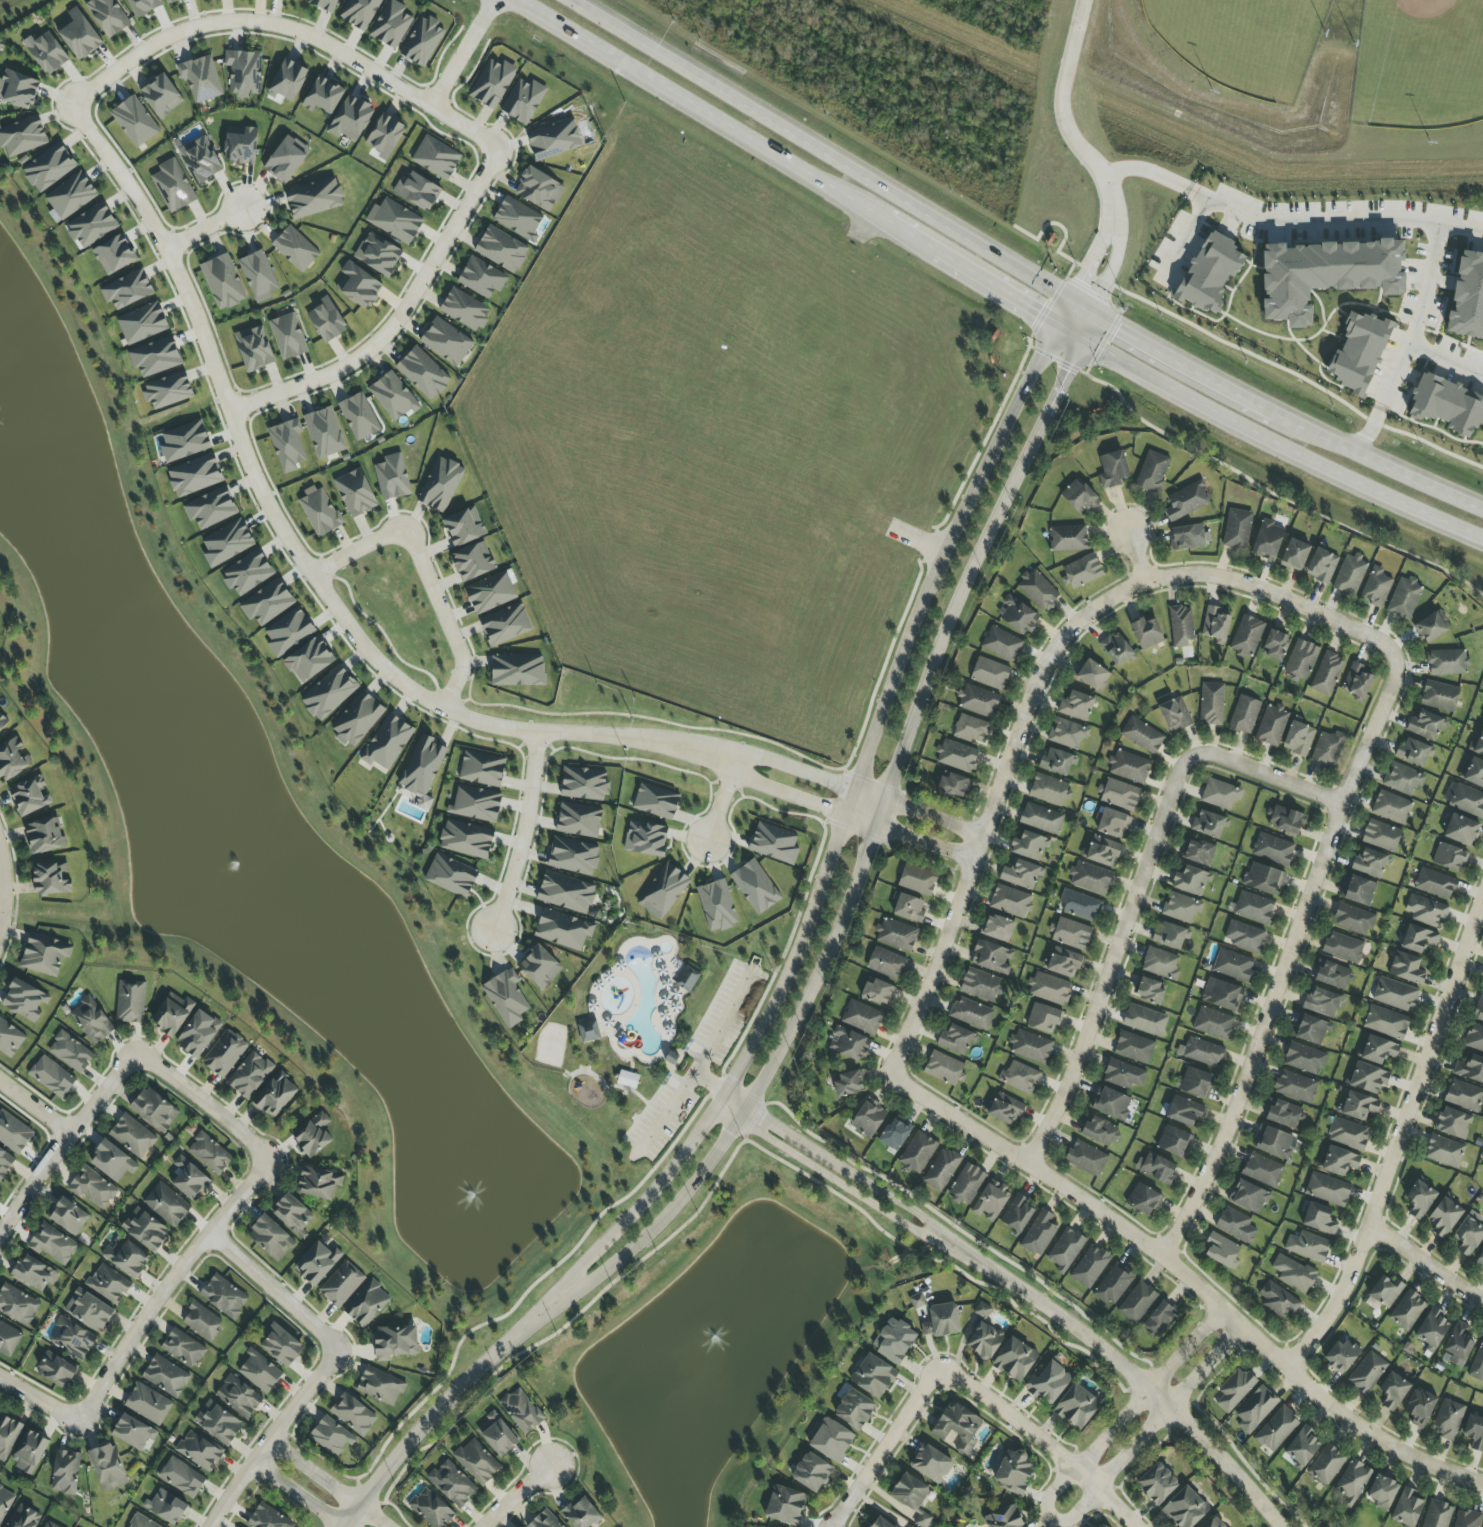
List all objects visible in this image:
building: (172, 1)
building: (324, 4)
building: (144, 6)
building: (359, 13)
building: (108, 16)
building: (391, 24)
road: (289, 28)
building: (78, 34)
building: (422, 41)
park: (1235, 43)
building: (46, 52)
road: (463, 53)
building: (243, 73)
building: (200, 78)
building: (288, 80)
building: (492, 83)
building: (18, 89)
building: (161, 96)
building: (323, 96)
building: (523, 101)
road: (692, 104)
road: (1062, 114)
park: (1240, 116)
building: (351, 119)
building: (134, 121)
building: (22, 135)
building: (385, 136)
building: (554, 139)
building: (240, 145)
building: (436, 157)
road: (831, 157)
building: (200, 159)
building: (286, 159)
building: (49, 167)
building: (173, 186)
building: (538, 189)
building: (417, 191)
building: (71, 195)
building: (314, 198)
building: (518, 218)
building: (395, 221)
road: (1113, 222)
road: (1288, 222)
road: (890, 223)
building: (91, 225)
road: (206, 228)
road: (1185, 240)
building: (295, 249)
building: (501, 249)
building: (378, 254)
building: (114, 255)
building: (1209, 272)
building: (1325, 275)
building: (258, 276)
building: (481, 278)
road: (985, 280)
building: (223, 282)
traffic signals: (1082, 282)
building: (358, 285)
building: (127, 289)
building: (1468, 298)
building: (464, 310)
traffic signals: (1038, 310)
road: (400, 316)
building: (326, 320)
building: (142, 323)
road: (1070, 328)
traffic signals: (1118, 328)
building: (288, 336)
building: (446, 341)
road: (1411, 343)
building: (254, 348)
building: (1358, 352)
building: (155, 357)
road: (1447, 360)
road: (1193, 367)
traffic signals: (1065, 371)
building: (422, 373)
building: (168, 390)
building: (393, 396)
building: (1447, 405)
building: (358, 416)
road: (1154, 429)
building: (324, 432)
building: (184, 441)
building: (288, 444)
road: (1276, 449)
road: (1387, 465)
building: (1112, 469)
building: (1152, 472)
building: (195, 475)
building: (392, 477)
building: (441, 484)
building: (355, 493)
building: (1079, 497)
building: (1186, 501)
building: (211, 508)
building: (319, 512)
building: (464, 526)
building: (1237, 529)
building: (1189, 537)
building: (1067, 538)
road: (937, 540)
building: (1267, 540)
road: (912, 541)
building: (227, 543)
building: (1295, 555)
road: (299, 556)
road: (1135, 556)
road: (928, 558)
building: (473, 562)
building: (1321, 566)
building: (1082, 571)
building: (247, 573)
building: (1350, 574)
road: (425, 575)
building: (1376, 588)
building: (1037, 590)
building: (490, 592)
road: (1274, 595)
building: (1404, 598)
building: (267, 603)
building: (1017, 615)
building: (505, 624)
building: (1216, 624)
building: (1181, 626)
building: (1431, 627)
building: (288, 632)
building: (1146, 632)
building: (1246, 636)
road: (386, 638)
building: (1001, 644)
building: (1274, 645)
building: (1116, 649)
building: (1301, 659)
building: (309, 660)
building: (1447, 662)
building: (517, 670)
building: (989, 673)
building: (1327, 673)
building: (1093, 675)
building: (1357, 682)
building: (329, 693)
building: (1439, 696)
building: (978, 701)
building: (1211, 703)
building: (1076, 706)
building: (1173, 713)
building: (1244, 715)
building: (358, 718)
road: (646, 718)
building: (1482, 718)
building: (3, 720)
building: (1425, 724)
building: (1272, 725)
building: (971, 729)
building: (1067, 733)
building: (1142, 735)
building: (1298, 738)
building: (387, 742)
building: (1477, 746)
building: (1327, 749)
building: (1414, 752)
building: (958, 756)
building: (12, 759)
building: (1057, 762)
building: (1129, 767)
building: (421, 768)
building: (482, 769)
road: (795, 770)
building: (1473, 773)
road: (1263, 776)
building: (1402, 779)
building: (584, 784)
building: (953, 785)
building: (1049, 790)
road: (786, 793)
building: (1120, 794)
building: (1220, 794)
building: (30, 796)
building: (1467, 800)
building: (656, 801)
road: (720, 802)
building: (475, 804)
road: (991, 806)
building: (1391, 807)
road: (918, 813)
building: (1041, 818)
building: (578, 820)
building: (1286, 820)
road: (834, 824)
building: (1113, 824)
building: (1208, 825)
road: (842, 826)
building: (1461, 830)
road: (524, 834)
building: (1382, 835)
building: (44, 836)
road: (910, 838)
building: (466, 839)
building: (646, 839)
building: (774, 843)
road: (866, 846)
building: (1029, 846)
building: (1273, 849)
building: (1101, 852)
building: (1198, 852)
building: (573, 856)
building: (1449, 857)
building: (1369, 863)
fountain: (246, 865)
building: (1020, 874)
building: (451, 876)
building: (1090, 878)
building: (51, 879)
building: (1263, 879)
building: (917, 880)
building: (1191, 881)
building: (1434, 884)
road: (2, 887)
building: (755, 887)
building: (1358, 890)
building: (663, 891)
building: (565, 892)
building: (1010, 901)
building: (716, 905)
building: (1080, 905)
building: (1180, 907)
building: (908, 908)
building: (1254, 908)
building: (1425, 910)
building: (1352, 920)
building: (997, 928)
building: (562, 930)
building: (1071, 934)
building: (896, 935)
building: (1168, 935)
building: (1244, 936)
building: (1418, 939)
building: (1343, 947)
building: (44, 954)
building: (992, 957)
road: (1286, 961)
road: (1110, 962)
building: (886, 963)
building: (1062, 963)
building: (1161, 964)
building: (1233, 965)
building: (539, 967)
building: (1406, 968)
building: (1331, 974)
building: (687, 979)
building: (981, 985)
building: (1049, 988)
building: (1482, 989)
building: (1149, 991)
building: (878, 992)
building: (1396, 994)
building: (1222, 995)
building: (506, 998)
building: (24, 1000)
building: (1323, 1001)
building: (130, 1002)
building: (1479, 1010)
parking lot: (725, 1012)
building: (972, 1013)
building: (172, 1014)
building: (862, 1017)
building: (1044, 1018)
building: (1144, 1020)
building: (91, 1021)
building: (1213, 1023)
building: (1387, 1023)
building: (1310, 1029)
building: (588, 1031)
building: (198, 1033)
building: (10, 1039)
building: (956, 1039)
building: (1474, 1039)
building: (848, 1044)
building: (1030, 1046)
building: (1133, 1048)
building: (1379, 1050)
building: (70, 1052)
road: (681, 1052)
building: (1201, 1052)
building: (224, 1053)
building: (1304, 1059)
road: (698, 1062)
building: (943, 1068)
building: (1470, 1069)
building: (1123, 1074)
building: (249, 1075)
building: (51, 1077)
building: (1019, 1077)
building: (1367, 1078)
building: (627, 1079)
building: (1195, 1082)
building: (848, 1083)
road: (707, 1084)
road: (717, 1084)
building: (1296, 1087)
road: (604, 1089)
building: (275, 1095)
building: (1465, 1095)
road: (734, 1103)
building: (1111, 1103)
road: (204, 1104)
building: (1358, 1106)
road: (33, 1109)
building: (1005, 1109)
building: (154, 1110)
building: (1184, 1112)
building: (1282, 1113)
parking lot: (658, 1119)
building: (868, 1119)
building: (1453, 1123)
building: (1098, 1130)
building: (13, 1133)
building: (1348, 1134)
building: (132, 1135)
building: (312, 1135)
building: (894, 1135)
road: (1396, 1138)
road: (62, 1139)
building: (1174, 1141)
building: (1273, 1142)
building: (1444, 1151)
building: (209, 1153)
building: (917, 1153)
building: (1086, 1158)
building: (112, 1161)
building: (1340, 1161)
building: (5, 1162)
building: (1156, 1168)
building: (941, 1170)
building: (1262, 1170)
road: (849, 1172)
building: (190, 1179)
building: (318, 1182)
building: (967, 1183)
road: (839, 1186)
building: (92, 1187)
building: (1328, 1189)
building: (1248, 1197)
fountain: (485, 1199)
building: (1143, 1199)
building: (1420, 1199)
building: (991, 1201)
building: (167, 1204)
road: (1095, 1207)
building: (293, 1214)
building: (1017, 1214)
building: (68, 1215)
building: (1444, 1217)
building: (1319, 1219)
building: (1236, 1225)
building: (145, 1229)
building: (1039, 1234)
building: (1468, 1236)
building: (270, 1238)
building: (53, 1244)
building: (1307, 1246)
building: (1065, 1249)
building: (1221, 1251)
building: (126, 1257)
building: (1480, 1260)
building: (317, 1262)
road: (1424, 1264)
building: (1089, 1267)
building: (1293, 1273)
building: (33, 1274)
building: (108, 1283)
building: (341, 1284)
building: (1113, 1285)
road: (165, 1286)
building: (1385, 1291)
road: (273, 1293)
building: (224, 1296)
building: (917, 1300)
building: (1277, 1301)
building: (1137, 1302)
building: (366, 1304)
building: (17, 1305)
building: (88, 1310)
building: (1407, 1311)
building: (1160, 1319)
building: (202, 1321)
building: (941, 1321)
building: (1432, 1329)
fountain: (737, 1330)
building: (984, 1335)
building: (71, 1338)
building: (8, 1339)
building: (894, 1340)
building: (395, 1342)
building: (1460, 1344)
building: (281, 1346)
building: (183, 1348)
building: (1341, 1355)
building: (1015, 1359)
building: (1477, 1364)
road: (1126, 1369)
building: (56, 1370)
building: (259, 1371)
building: (1367, 1372)
building: (165, 1376)
building: (873, 1376)
building: (1048, 1383)
building: (380, 1386)
building: (1234, 1390)
building: (1393, 1391)
building: (238, 1396)
road: (37, 1401)
road: (443, 1402)
building: (148, 1403)
building: (1077, 1406)
building: (1420, 1407)
building: (854, 1409)
building: (1255, 1410)
building: (521, 1411)
building: (353, 1414)
building: (1448, 1419)
building: (218, 1423)
building: (957, 1427)
building: (1276, 1429)
building: (133, 1432)
building: (1474, 1433)
building: (498, 1434)
building: (8, 1436)
building: (331, 1436)
road: (269, 1438)
road: (1376, 1438)
building: (831, 1440)
road: (1043, 1441)
building: (1301, 1447)
road: (885, 1449)
building: (29, 1451)
building: (199, 1451)
road: (1238, 1458)
building: (477, 1461)
building: (931, 1464)
building: (1326, 1465)
building: (108, 1467)
building: (65, 1472)
building: (812, 1472)
building: (1014, 1472)
building: (181, 1477)
road: (329, 1482)
building: (1351, 1482)
building: (452, 1483)
building: (1156, 1483)
building: (909, 1492)
building: (1382, 1492)
road: (297, 1494)
road: (514, 1495)
building: (4, 1502)
building: (785, 1505)
building: (166, 1507)
building: (431, 1508)
building: (1185, 1508)
building: (1406, 1508)
building: (581, 1513)
road: (1051, 1515)
building: (1437, 1515)
building: (24, 1517)
building: (268, 1517)
building: (1004, 1518)
building: (1467, 1519)
building: (544, 1520)
building: (922, 1520)
building: (142, 1522)
building: (880, 1522)
building: (1213, 1522)
building: (48, 1524)
building: (910, 1526)

